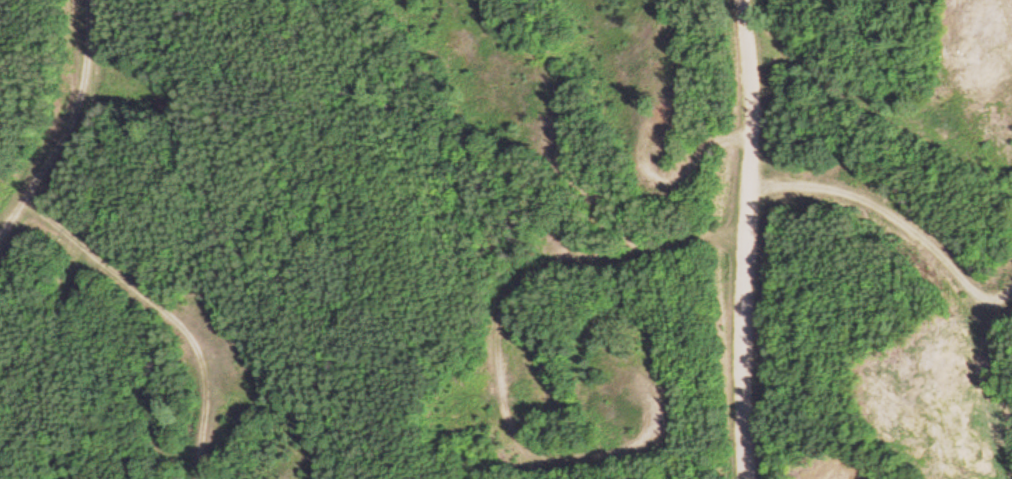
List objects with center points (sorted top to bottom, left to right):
road: (66, 124)
road: (890, 217)
road: (746, 238)
road: (165, 311)

